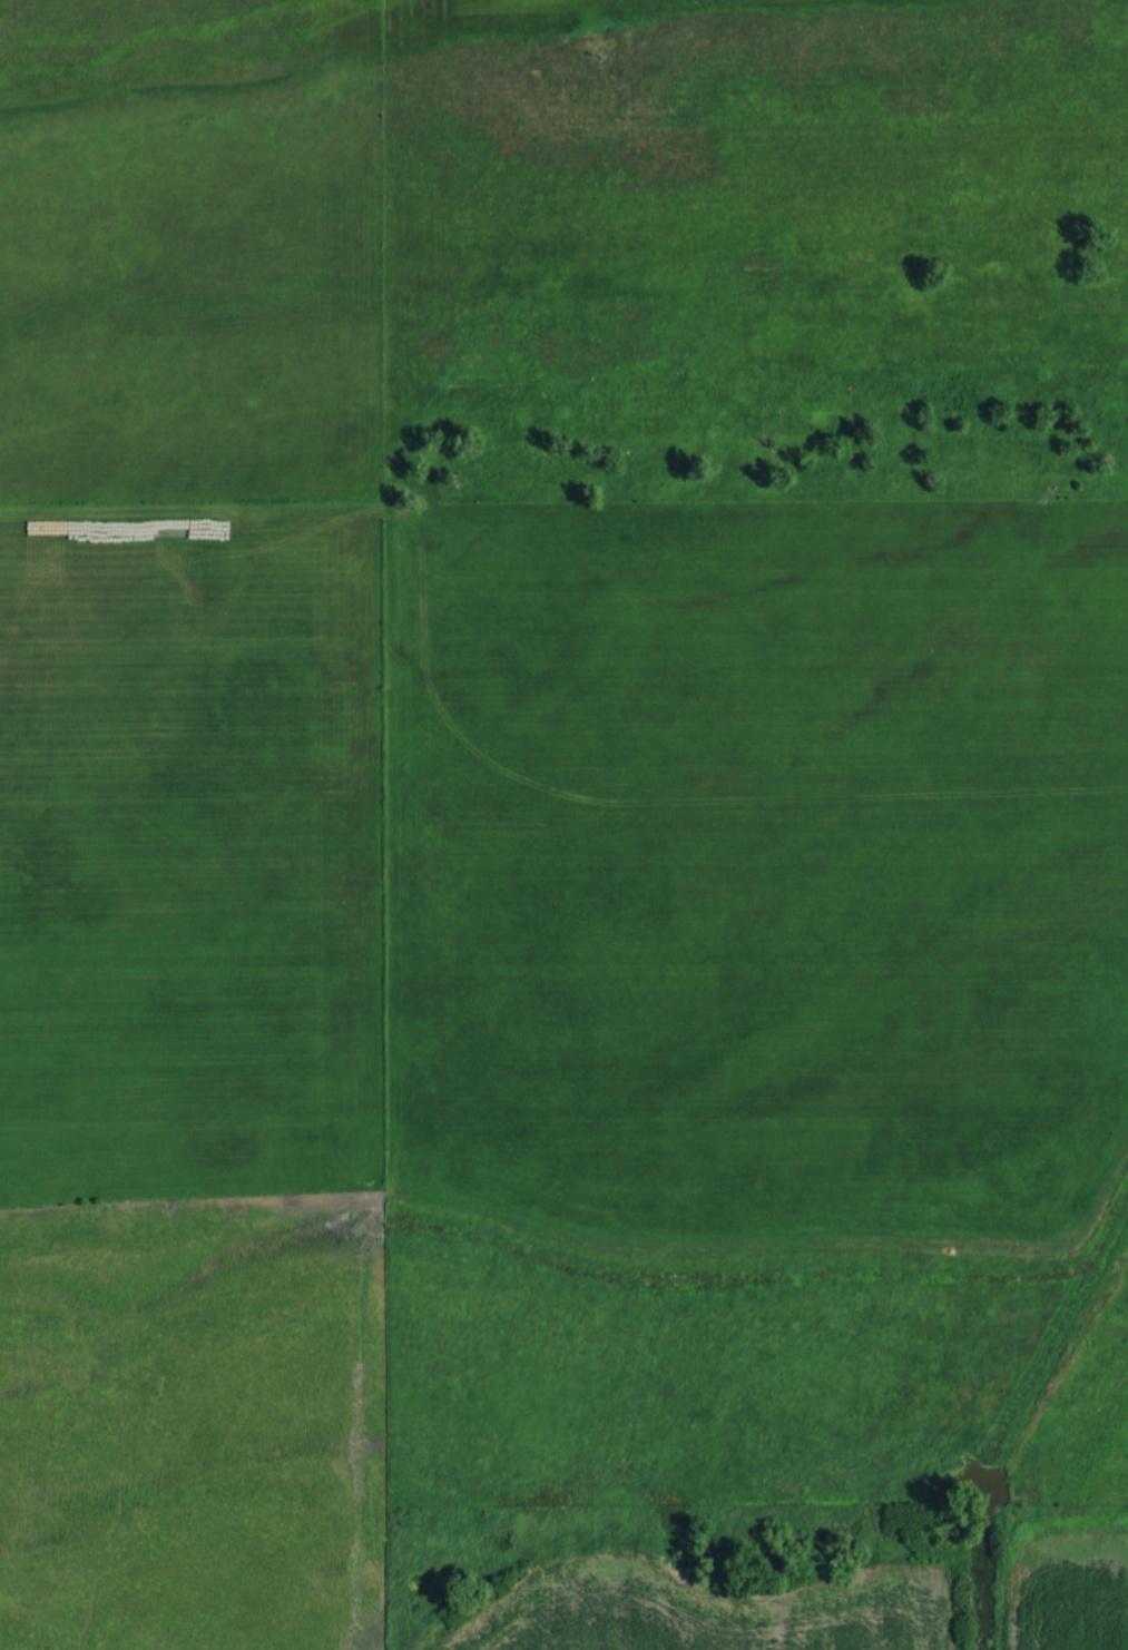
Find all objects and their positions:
river: (1011, 1411)

